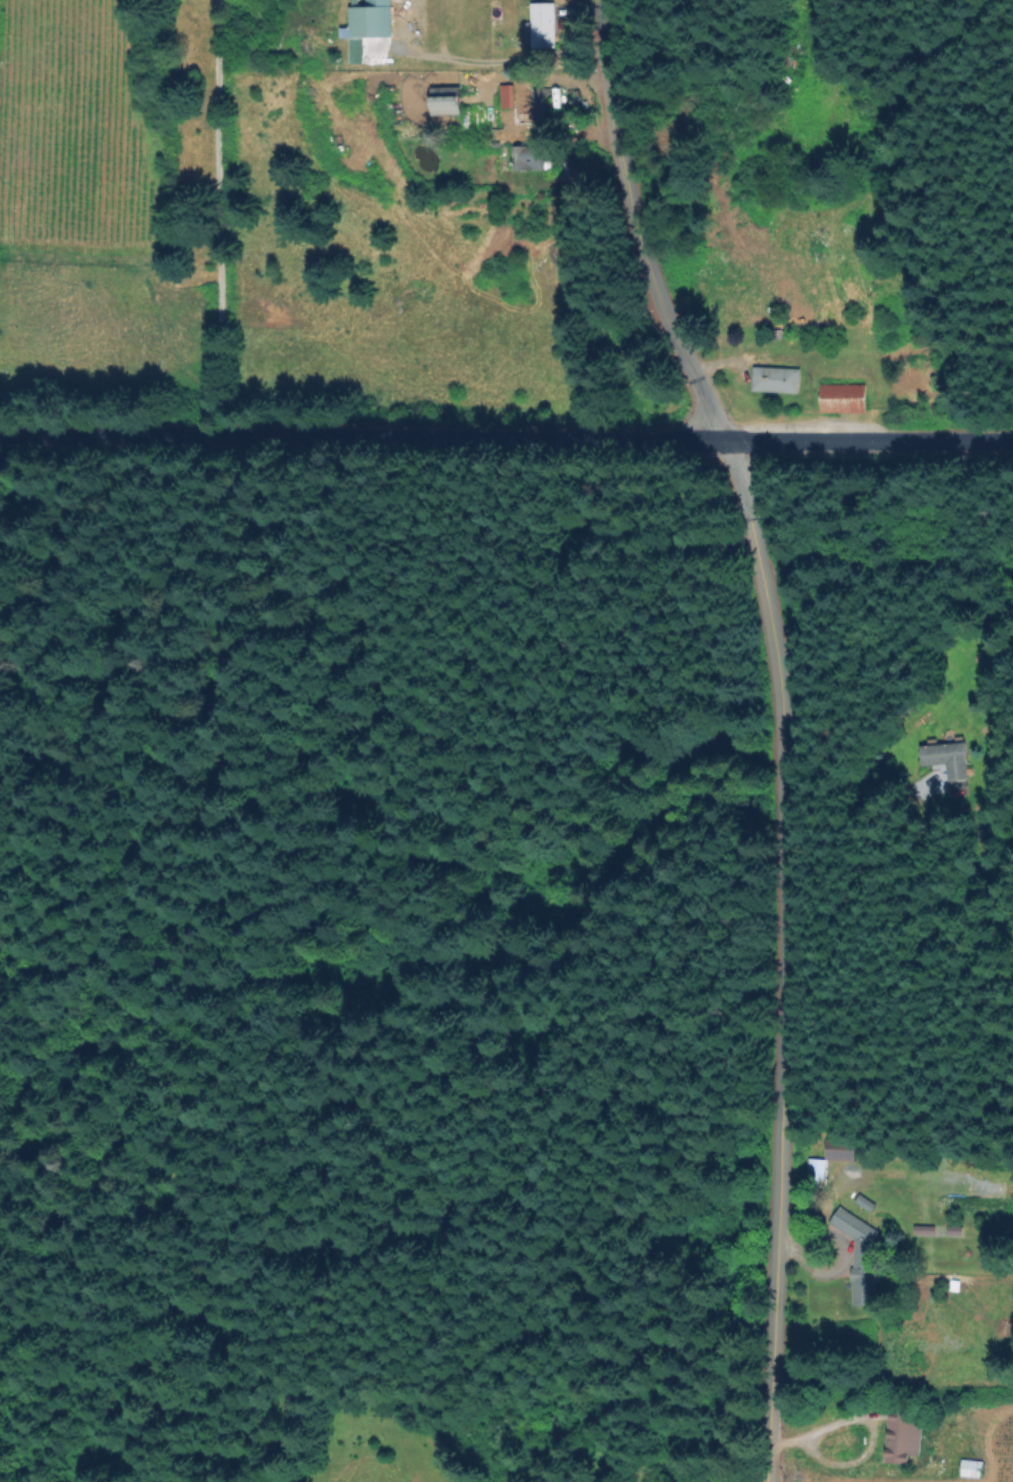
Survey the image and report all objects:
building: (365, 16)
building: (536, 20)
building: (549, 95)
building: (504, 96)
building: (444, 97)
building: (541, 105)
building: (524, 158)
road: (214, 218)
road: (631, 226)
building: (770, 373)
building: (839, 393)
road: (506, 441)
building: (936, 755)
road: (778, 959)
building: (828, 1158)
building: (862, 1204)
building: (852, 1230)
building: (861, 1277)
road: (865, 1425)
building: (899, 1438)
building: (968, 1470)

